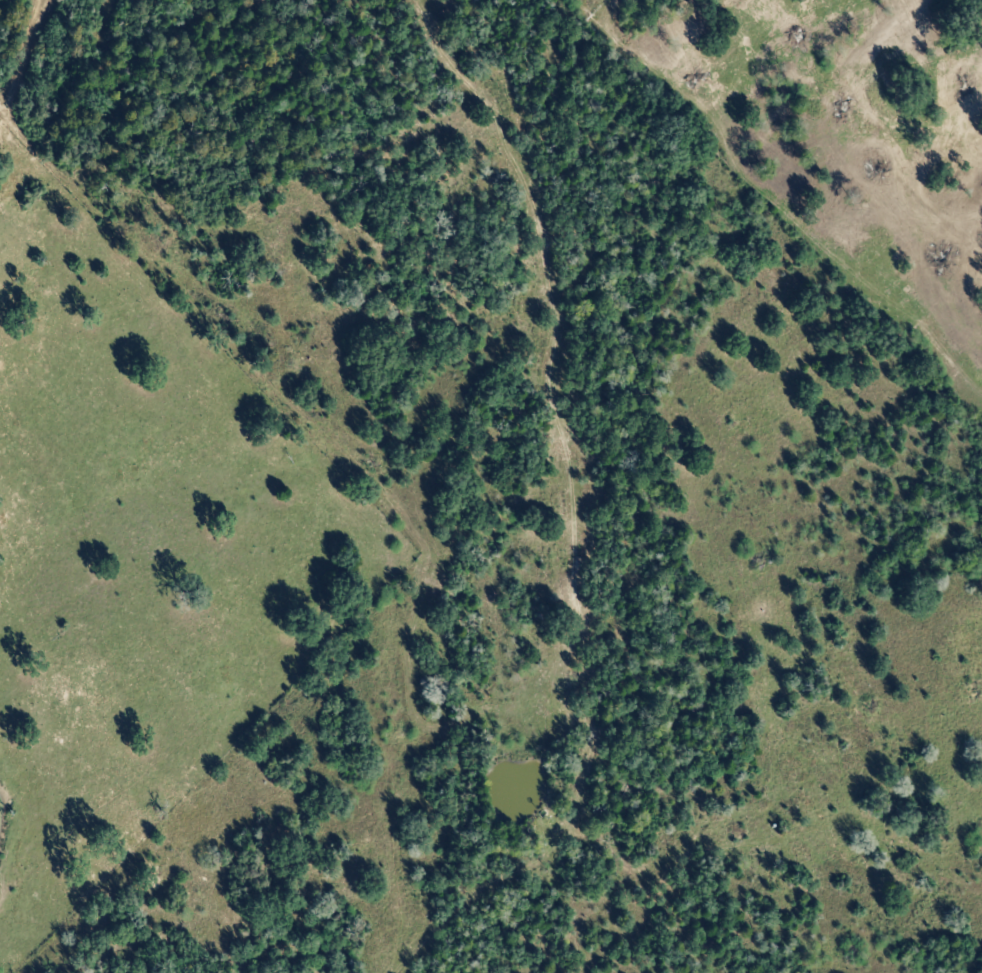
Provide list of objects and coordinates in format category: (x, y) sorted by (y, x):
road: (423, 921)

